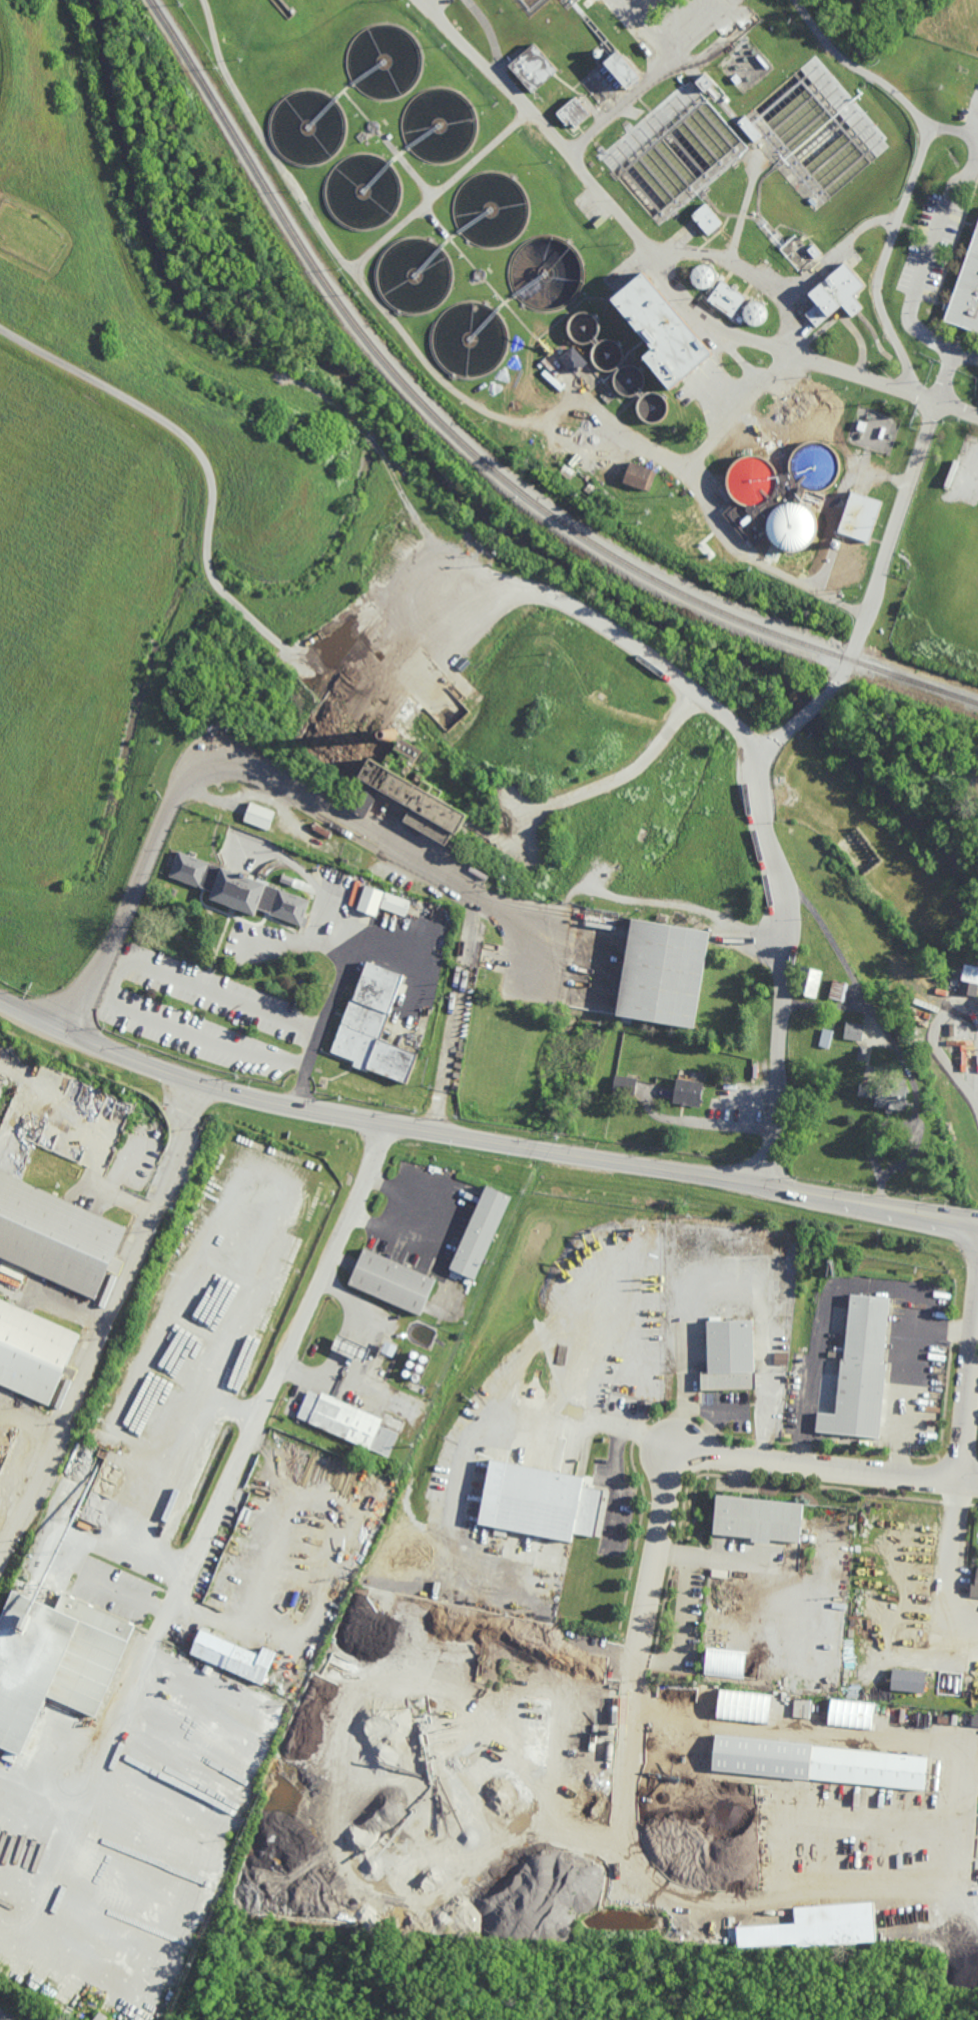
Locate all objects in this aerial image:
building: (568, 3)
storage tank: (568, 3)
building: (531, 5)
storage tank: (531, 5)
building: (384, 61)
storage tank: (384, 61)
building: (622, 66)
building: (533, 67)
road: (641, 81)
building: (704, 81)
building: (573, 111)
building: (439, 124)
storage tank: (439, 124)
building: (308, 126)
storage tank: (308, 126)
building: (814, 132)
storage tank: (814, 132)
building: (673, 152)
storage tank: (673, 152)
road: (914, 172)
building: (364, 190)
storage tank: (364, 190)
road: (597, 191)
building: (491, 208)
storage tank: (491, 208)
building: (708, 218)
park: (29, 235)
wastewater plant: (646, 249)
building: (799, 252)
road: (927, 258)
building: (546, 272)
storage tank: (546, 272)
building: (416, 275)
storage tank: (416, 275)
building: (704, 275)
storage tank: (704, 275)
building: (966, 292)
building: (837, 295)
building: (728, 297)
building: (756, 312)
storage tank: (756, 312)
building: (583, 327)
storage tank: (583, 327)
building: (663, 330)
building: (471, 338)
storage tank: (471, 338)
road: (965, 349)
building: (607, 354)
storage tank: (607, 354)
building: (574, 360)
road: (437, 369)
road: (944, 373)
road: (863, 377)
building: (629, 379)
storage tank: (629, 379)
building: (653, 407)
storage tank: (653, 407)
road: (956, 409)
building: (802, 413)
railway: (478, 454)
building: (567, 471)
building: (640, 476)
building: (753, 480)
storage tank: (753, 480)
building: (592, 488)
building: (804, 496)
storage tank: (804, 496)
building: (605, 497)
building: (861, 517)
road: (892, 536)
road: (604, 626)
road: (833, 685)
road: (806, 713)
building: (797, 773)
road: (613, 779)
building: (412, 795)
building: (823, 802)
building: (259, 814)
road: (352, 823)
road: (309, 878)
building: (240, 887)
building: (395, 903)
road: (122, 919)
road: (297, 947)
road: (791, 947)
building: (663, 971)
road: (114, 977)
building: (810, 980)
building: (970, 980)
road: (333, 986)
building: (839, 989)
road: (826, 1007)
road: (455, 1015)
building: (863, 1024)
building: (374, 1026)
building: (854, 1031)
road: (890, 1036)
building: (826, 1038)
building: (865, 1048)
road: (941, 1055)
railway: (14, 1070)
building: (623, 1084)
building: (688, 1092)
building: (886, 1094)
road: (977, 1106)
road: (878, 1138)
road: (480, 1140)
road: (155, 1206)
road: (394, 1211)
building: (482, 1233)
building: (57, 1237)
building: (394, 1282)
road: (822, 1318)
building: (77, 1324)
building: (390, 1349)
building: (347, 1350)
building: (34, 1353)
building: (414, 1354)
building: (730, 1355)
building: (423, 1358)
building: (410, 1363)
road: (690, 1365)
building: (420, 1368)
road: (281, 1370)
building: (406, 1372)
building: (861, 1372)
building: (416, 1377)
road: (904, 1378)
road: (968, 1392)
road: (698, 1408)
building: (348, 1422)
road: (604, 1425)
road: (53, 1440)
road: (719, 1455)
road: (614, 1486)
building: (540, 1501)
building: (758, 1518)
road: (950, 1569)
building: (974, 1584)
building: (303, 1604)
building: (589, 1644)
building: (233, 1655)
building: (55, 1660)
building: (724, 1663)
building: (908, 1680)
building: (743, 1706)
building: (804, 1709)
building: (850, 1714)
building: (974, 1720)
building: (816, 1762)
building: (401, 1912)
building: (392, 1915)
park: (509, 1981)
building: (102, 2017)

